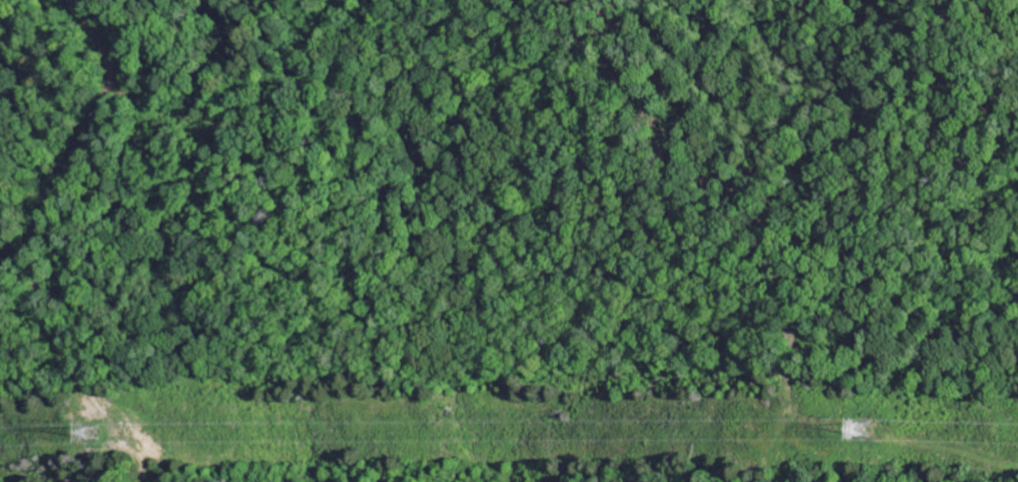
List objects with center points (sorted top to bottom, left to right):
power tower: (864, 432)
power tower: (94, 433)

